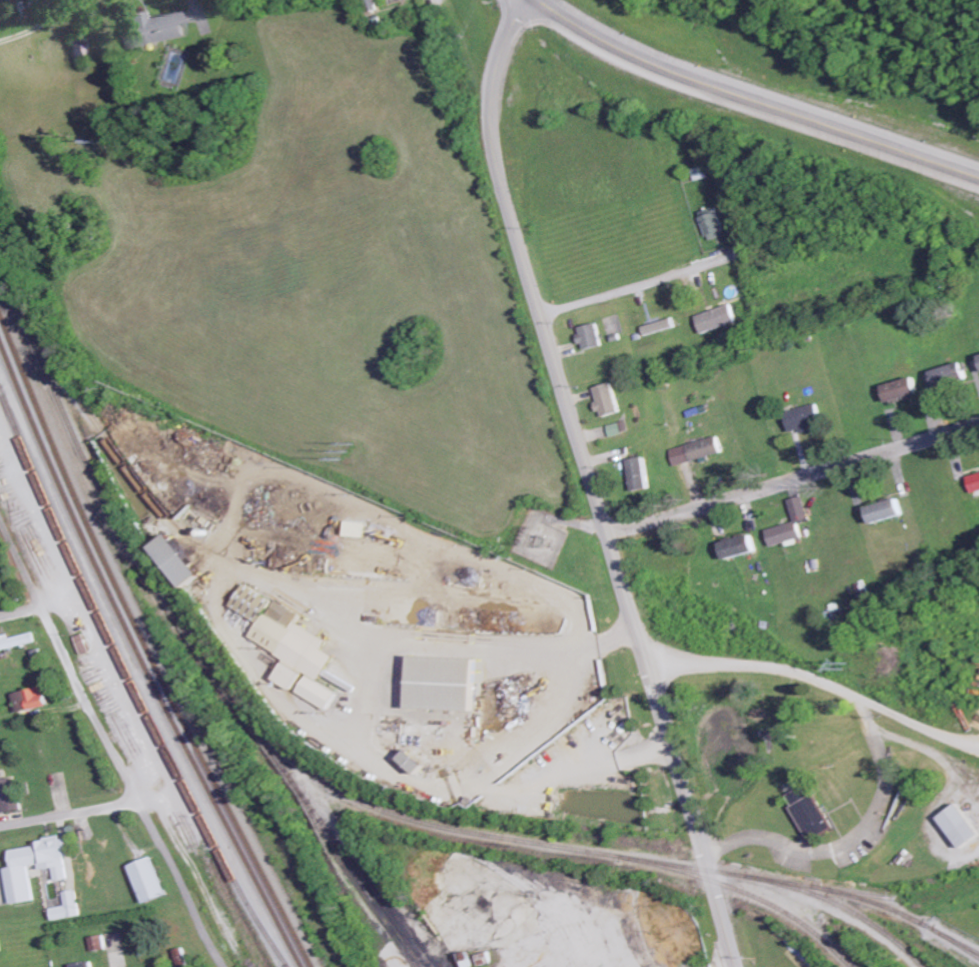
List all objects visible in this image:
building: (152, 29)
building: (77, 48)
road: (754, 100)
building: (700, 173)
building: (713, 224)
road: (644, 283)
building: (718, 319)
building: (660, 327)
building: (592, 337)
building: (951, 376)
building: (902, 390)
building: (608, 400)
building: (806, 419)
building: (618, 429)
building: (698, 451)
building: (640, 474)
road: (592, 481)
road: (794, 481)
building: (974, 483)
building: (799, 509)
building: (885, 511)
building: (357, 529)
building: (784, 534)
power substation: (540, 538)
railway: (193, 540)
building: (739, 547)
building: (180, 562)
building: (251, 602)
road: (21, 612)
building: (294, 640)
building: (16, 641)
railway: (148, 645)
railway: (143, 656)
building: (291, 677)
railway: (135, 680)
building: (443, 685)
building: (319, 693)
road: (818, 695)
building: (30, 700)
road: (111, 741)
building: (415, 763)
railway: (302, 768)
building: (9, 794)
building: (800, 795)
road: (71, 815)
building: (813, 818)
railway: (316, 823)
building: (960, 827)
railway: (361, 869)
building: (19, 873)
building: (148, 879)
railway: (791, 886)
railway: (906, 897)
railway: (871, 901)
building: (67, 906)
building: (97, 943)
railway: (962, 945)
building: (182, 957)
building: (83, 964)

